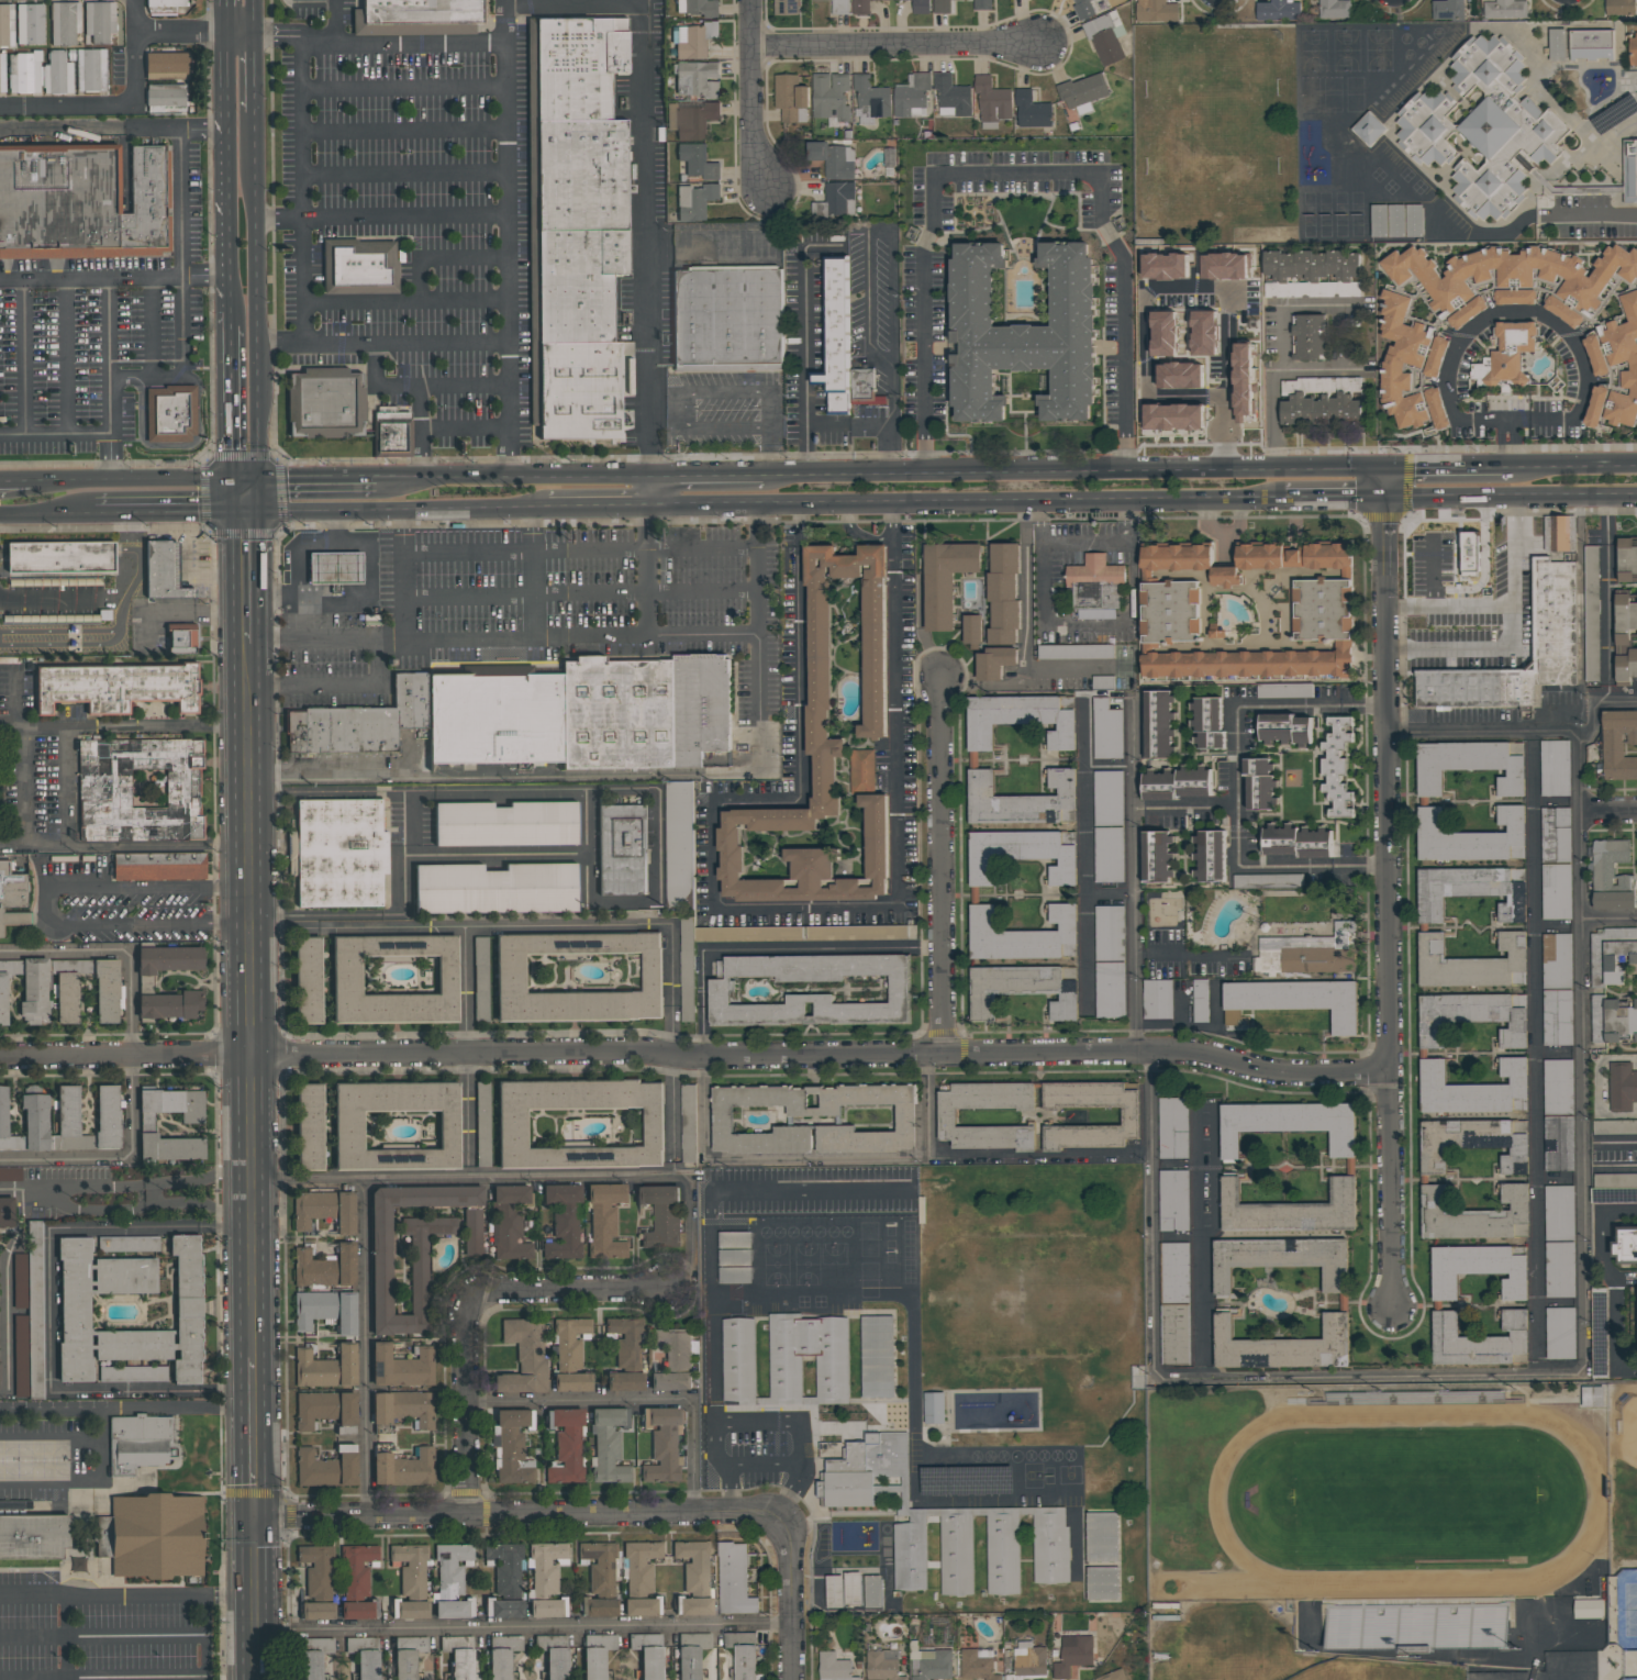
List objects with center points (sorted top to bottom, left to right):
road: (311, 0)
building: (982, 4)
building: (164, 5)
building: (837, 5)
building: (699, 7)
building: (786, 7)
building: (862, 7)
building: (920, 7)
building: (942, 7)
road: (575, 8)
building: (1335, 8)
building: (1621, 8)
building: (1083, 9)
building: (1505, 9)
building: (1448, 10)
building: (423, 11)
building: (1156, 11)
building: (1278, 11)
road: (223, 18)
road: (252, 18)
building: (100, 21)
road: (335, 21)
building: (65, 22)
building: (7, 24)
building: (30, 24)
road: (179, 34)
road: (237, 35)
building: (1106, 37)
building: (693, 38)
road: (377, 42)
building: (1557, 44)
building: (1592, 45)
road: (897, 48)
building: (1633, 49)
road: (135, 51)
building: (167, 65)
building: (91, 69)
building: (2, 71)
building: (40, 73)
road: (253, 74)
building: (697, 80)
road: (402, 88)
building: (1083, 92)
building: (912, 96)
road: (748, 97)
building: (831, 97)
building: (871, 98)
building: (953, 98)
building: (165, 99)
building: (791, 99)
building: (993, 100)
road: (66, 104)
building: (1032, 111)
building: (691, 119)
building: (1427, 127)
road: (100, 130)
road: (175, 130)
building: (1500, 130)
road: (403, 132)
road: (302, 152)
building: (834, 159)
building: (698, 162)
building: (1629, 170)
road: (225, 173)
road: (403, 173)
road: (1017, 176)
building: (840, 199)
building: (82, 201)
building: (695, 201)
road: (403, 218)
building: (1379, 221)
building: (1396, 221)
building: (1414, 221)
building: (577, 224)
road: (869, 233)
road: (1493, 235)
road: (648, 237)
road: (505, 238)
road: (818, 245)
road: (441, 258)
building: (361, 266)
building: (1313, 274)
road: (114, 277)
building: (1513, 280)
road: (257, 297)
road: (405, 301)
road: (304, 303)
road: (1522, 312)
road: (230, 318)
building: (728, 318)
road: (110, 325)
building: (1024, 334)
building: (1310, 336)
road: (407, 343)
road: (1226, 343)
building: (842, 345)
building: (1612, 353)
road: (24, 356)
road: (67, 356)
building: (1506, 356)
road: (1281, 358)
building: (1407, 360)
road: (804, 364)
road: (1321, 367)
road: (178, 369)
road: (892, 379)
road: (422, 387)
road: (680, 393)
building: (1321, 401)
road: (231, 403)
building: (326, 403)
building: (1437, 409)
road: (892, 412)
building: (170, 413)
road: (1499, 419)
road: (1521, 420)
road: (825, 429)
road: (876, 429)
road: (466, 430)
road: (423, 432)
building: (392, 436)
road: (1501, 444)
road: (1510, 444)
road: (165, 446)
road: (773, 452)
road: (891, 452)
road: (110, 458)
road: (1573, 466)
road: (1449, 468)
traffic signals: (1388, 470)
road: (1147, 471)
road: (706, 475)
road: (834, 475)
road: (513, 476)
road: (319, 481)
road: (15, 482)
road: (132, 482)
traffic signals: (233, 482)
road: (247, 482)
traffic signals: (261, 482)
road: (1405, 485)
road: (650, 491)
road: (1512, 494)
road: (1336, 497)
traffic signals: (1388, 497)
road: (238, 498)
road: (253, 498)
road: (967, 501)
road: (598, 508)
road: (396, 511)
road: (168, 513)
traffic signals: (245, 513)
road: (46, 514)
road: (1382, 518)
road: (170, 522)
building: (1559, 533)
road: (1085, 542)
road: (136, 544)
road: (1294, 544)
road: (1512, 549)
road: (580, 550)
road: (191, 553)
road: (296, 554)
building: (1177, 557)
building: (1473, 557)
parking lot: (1430, 560)
building: (1627, 560)
building: (67, 561)
road: (1483, 565)
building: (335, 568)
gas station: (335, 568)
building: (165, 572)
road: (650, 572)
road: (535, 575)
building: (1225, 576)
road: (245, 577)
road: (1429, 578)
building: (946, 580)
road: (132, 586)
building: (1095, 588)
road: (1250, 588)
fountain: (1276, 589)
road: (1288, 590)
road: (580, 592)
building: (1004, 594)
road: (365, 597)
road: (63, 600)
road: (1285, 608)
building: (1323, 609)
road: (198, 613)
building: (1170, 613)
building: (1591, 613)
building: (52, 615)
building: (1554, 615)
road: (1085, 624)
road: (1513, 625)
road: (1270, 627)
road: (76, 628)
building: (973, 630)
road: (149, 632)
building: (182, 638)
road: (581, 639)
building: (1623, 641)
road: (325, 642)
road: (64, 644)
road: (1248, 647)
building: (1076, 652)
road: (247, 658)
building: (995, 663)
building: (1626, 667)
building: (113, 687)
road: (336, 687)
building: (1284, 691)
road: (14, 701)
road: (758, 705)
road: (1603, 712)
building: (552, 716)
building: (1020, 720)
building: (1209, 723)
road: (97, 727)
building: (1285, 730)
building: (1106, 731)
road: (13, 741)
building: (1618, 745)
building: (827, 753)
building: (1468, 766)
building: (1337, 768)
road: (26, 769)
building: (1555, 769)
road: (504, 777)
building: (1178, 783)
building: (1260, 783)
road: (1234, 786)
building: (143, 790)
building: (1109, 798)
building: (1022, 800)
road: (1557, 804)
road: (1608, 806)
road: (403, 822)
road: (589, 822)
building: (506, 823)
road: (1084, 832)
building: (1556, 834)
building: (1471, 837)
building: (1298, 842)
building: (679, 844)
road: (160, 848)
road: (34, 849)
building: (623, 849)
building: (339, 853)
building: (1023, 854)
building: (1109, 855)
building: (1211, 856)
building: (1158, 857)
building: (1273, 859)
building: (159, 866)
road: (252, 866)
road: (942, 867)
building: (1612, 876)
road: (1133, 878)
building: (1268, 880)
building: (498, 888)
road: (1384, 888)
building: (1470, 891)
building: (1556, 892)
building: (12, 897)
road: (659, 900)
road: (48, 906)
road: (761, 909)
road: (1610, 921)
road: (1558, 924)
road: (526, 925)
building: (801, 933)
building: (1110, 933)
building: (1024, 936)
road: (768, 949)
building: (1309, 953)
building: (1612, 956)
building: (169, 959)
building: (1557, 960)
building: (1472, 964)
building: (687, 969)
building: (579, 977)
building: (481, 978)
building: (396, 979)
building: (309, 980)
building: (62, 989)
building: (810, 990)
building: (1022, 990)
building: (1110, 990)
road: (465, 991)
building: (1157, 999)
building: (1200, 1001)
building: (1294, 1001)
building: (168, 1005)
building: (1472, 1017)
building: (1557, 1017)
building: (1613, 1020)
road: (131, 1054)
road: (1558, 1054)
road: (1535, 1055)
road: (693, 1056)
road: (1600, 1086)
building: (1558, 1087)
building: (1622, 1087)
building: (1473, 1089)
road: (925, 1105)
road: (466, 1116)
road: (672, 1116)
building: (1129, 1116)
building: (947, 1117)
building: (723, 1121)
building: (45, 1123)
building: (688, 1123)
building: (482, 1124)
building: (580, 1124)
building: (1289, 1124)
building: (397, 1125)
building: (310, 1126)
building: (1614, 1127)
building: (1172, 1128)
building: (147, 1131)
building: (1472, 1144)
building: (1558, 1144)
road: (879, 1156)
building: (10, 1173)
road: (472, 1177)
road: (1559, 1178)
road: (12, 1189)
building: (1614, 1189)
road: (138, 1194)
building: (1173, 1200)
road: (255, 1206)
building: (325, 1210)
building: (1290, 1211)
building: (7, 1212)
building: (1559, 1212)
building: (1474, 1215)
building: (661, 1216)
building: (511, 1221)
building: (563, 1221)
building: (605, 1221)
building: (472, 1232)
road: (712, 1234)
building: (735, 1239)
road: (1203, 1242)
building: (127, 1243)
road: (691, 1245)
building: (1627, 1246)
building: (735, 1257)
building: (1281, 1259)
building: (325, 1267)
building: (1559, 1269)
building: (1478, 1270)
building: (381, 1275)
building: (735, 1275)
road: (1615, 1279)
building: (20, 1280)
road: (4, 1292)
building: (1174, 1304)
road: (1560, 1304)
building: (313, 1309)
road: (49, 1310)
building: (75, 1312)
building: (346, 1314)
road: (467, 1314)
building: (31, 1323)
road: (1585, 1331)
building: (1560, 1333)
building: (626, 1339)
building: (1479, 1340)
building: (570, 1343)
building: (1283, 1346)
road: (363, 1348)
building: (523, 1357)
building: (878, 1357)
building: (675, 1359)
building: (738, 1360)
building: (808, 1360)
building: (402, 1366)
building: (326, 1368)
building: (133, 1373)
building: (572, 1381)
building: (625, 1381)
building: (1592, 1397)
road: (635, 1398)
road: (127, 1408)
building: (404, 1408)
building: (934, 1408)
building: (325, 1409)
road: (105, 1423)
road: (776, 1423)
road: (53, 1437)
road: (256, 1438)
building: (140, 1443)
building: (662, 1443)
building: (609, 1445)
building: (566, 1446)
building: (512, 1448)
park: (1628, 1449)
road: (760, 1466)
building: (327, 1467)
building: (404, 1468)
building: (868, 1472)
road: (73, 1481)
road: (790, 1489)
road: (726, 1491)
road: (522, 1517)
traffic signals: (256, 1520)
building: (33, 1536)
building: (153, 1536)
building: (1102, 1537)
building: (1050, 1554)
building: (600, 1565)
building: (694, 1565)
building: (505, 1566)
building: (641, 1566)
building: (357, 1568)
building: (410, 1568)
building: (316, 1569)
building: (547, 1580)
building: (735, 1580)
building: (453, 1581)
building: (1102, 1583)
building: (853, 1589)
building: (835, 1591)
building: (873, 1591)
road: (231, 1595)
road: (102, 1596)
road: (788, 1596)
road: (256, 1600)
building: (694, 1605)
building: (602, 1606)
building: (643, 1606)
building: (504, 1609)
building: (1588, 1609)
building: (412, 1610)
building: (318, 1611)
road: (522, 1629)
road: (67, 1638)
road: (207, 1638)
building: (550, 1640)
building: (320, 1644)
building: (598, 1654)
building: (648, 1654)
building: (691, 1654)
building: (744, 1654)
building: (409, 1655)
building: (502, 1655)
building: (1073, 1655)
building: (366, 1656)
building: (460, 1656)
building: (1028, 1660)
building: (557, 1664)
building: (311, 1665)
building: (883, 1665)
building: (931, 1665)
building: (978, 1665)
building: (834, 1667)
building: (1113, 1676)

